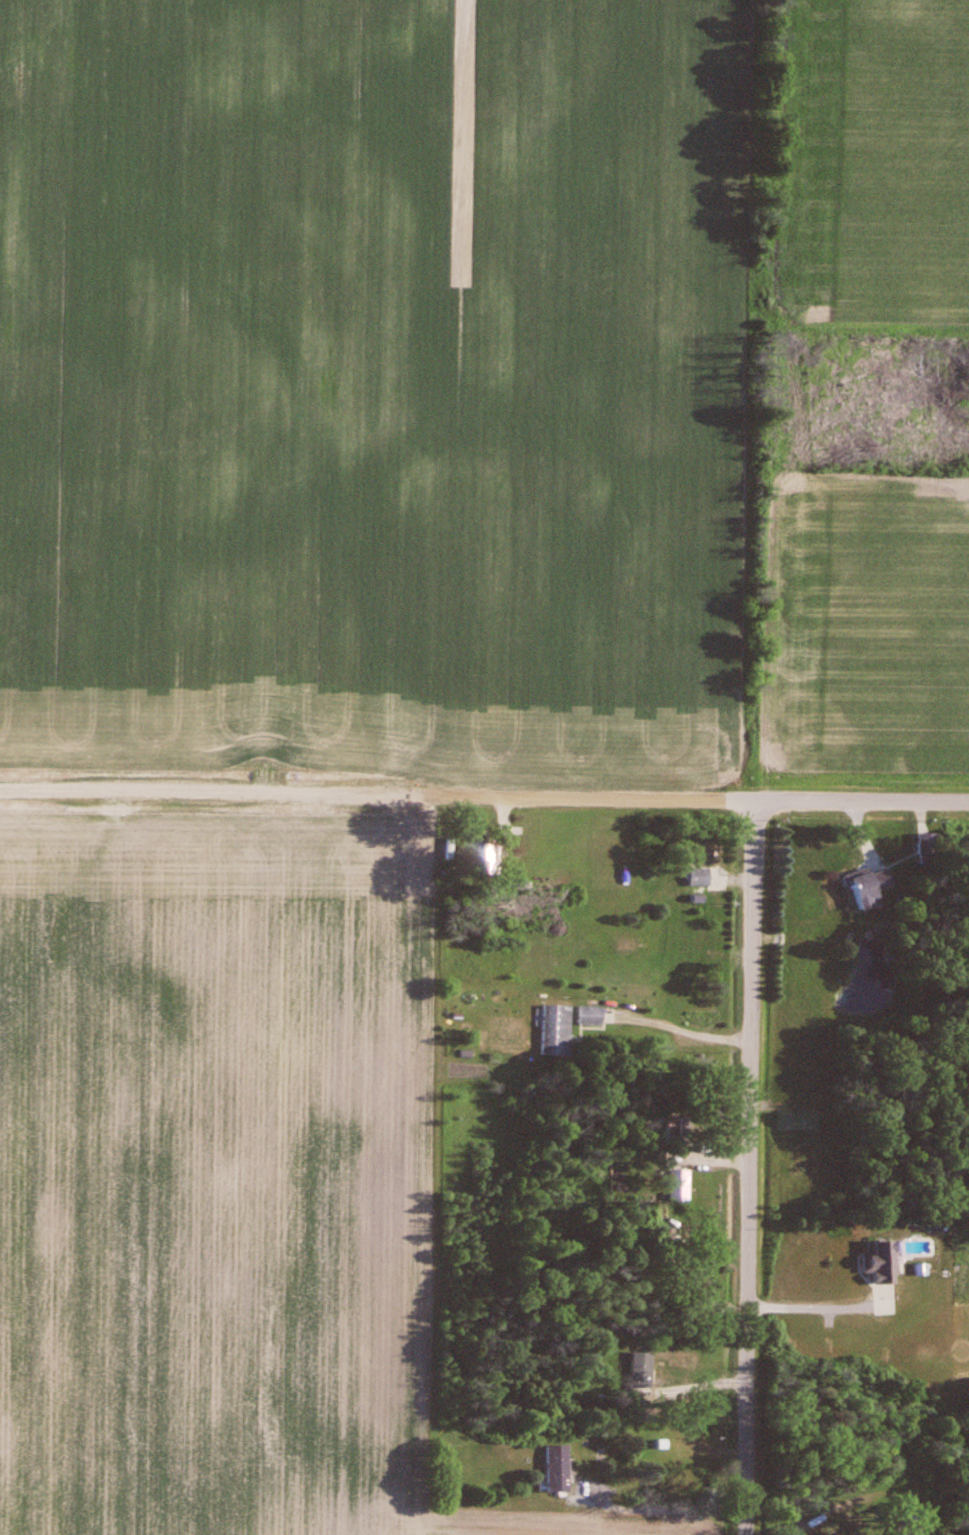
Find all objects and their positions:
road: (484, 796)
building: (702, 854)
building: (697, 878)
building: (865, 886)
building: (589, 1017)
building: (555, 1031)
road: (683, 1031)
road: (754, 1167)
building: (676, 1187)
building: (878, 1263)
building: (700, 1287)
road: (815, 1308)
building: (640, 1369)
building: (656, 1434)
building: (555, 1469)
road: (600, 1491)
building: (906, 1529)
building: (832, 1534)

